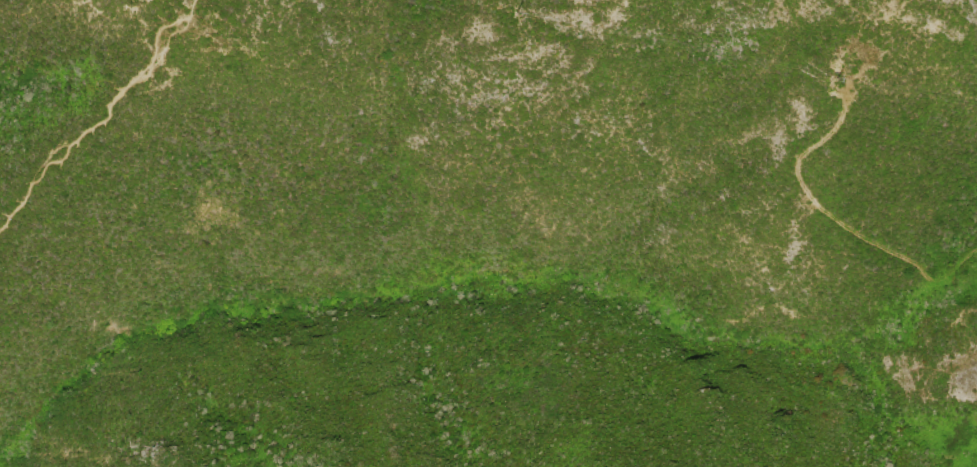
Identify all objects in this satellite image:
road: (100, 115)
park: (488, 233)

